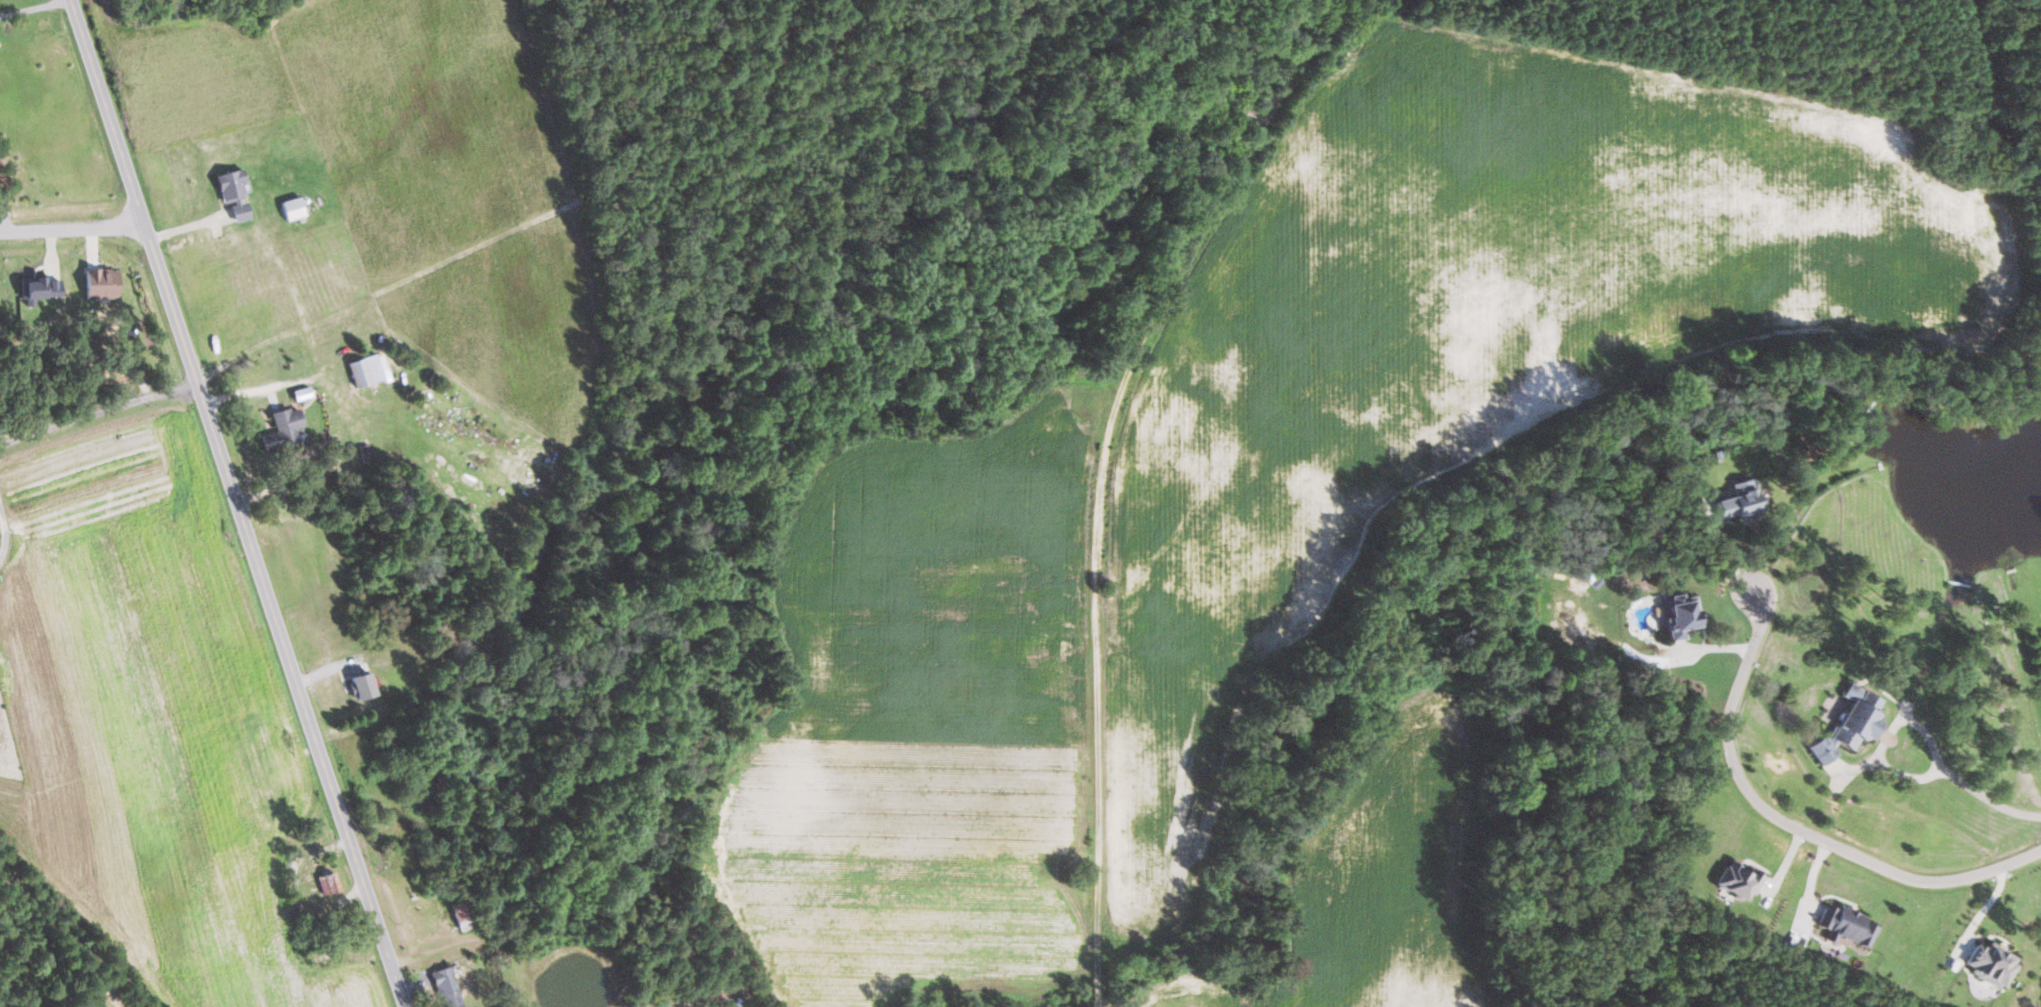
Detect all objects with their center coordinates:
road: (32, 8)
road: (1300, 68)
building: (234, 192)
building: (294, 207)
road: (185, 226)
road: (69, 227)
building: (102, 283)
building: (42, 287)
building: (368, 369)
road: (95, 410)
building: (285, 429)
building: (1742, 502)
road: (232, 504)
road: (4, 532)
road: (1099, 553)
building: (1684, 615)
building: (364, 685)
building: (1853, 724)
road: (1961, 781)
road: (1793, 828)
building: (1741, 880)
building: (330, 883)
building: (463, 915)
building: (1848, 925)
building: (1994, 963)
building: (449, 987)

